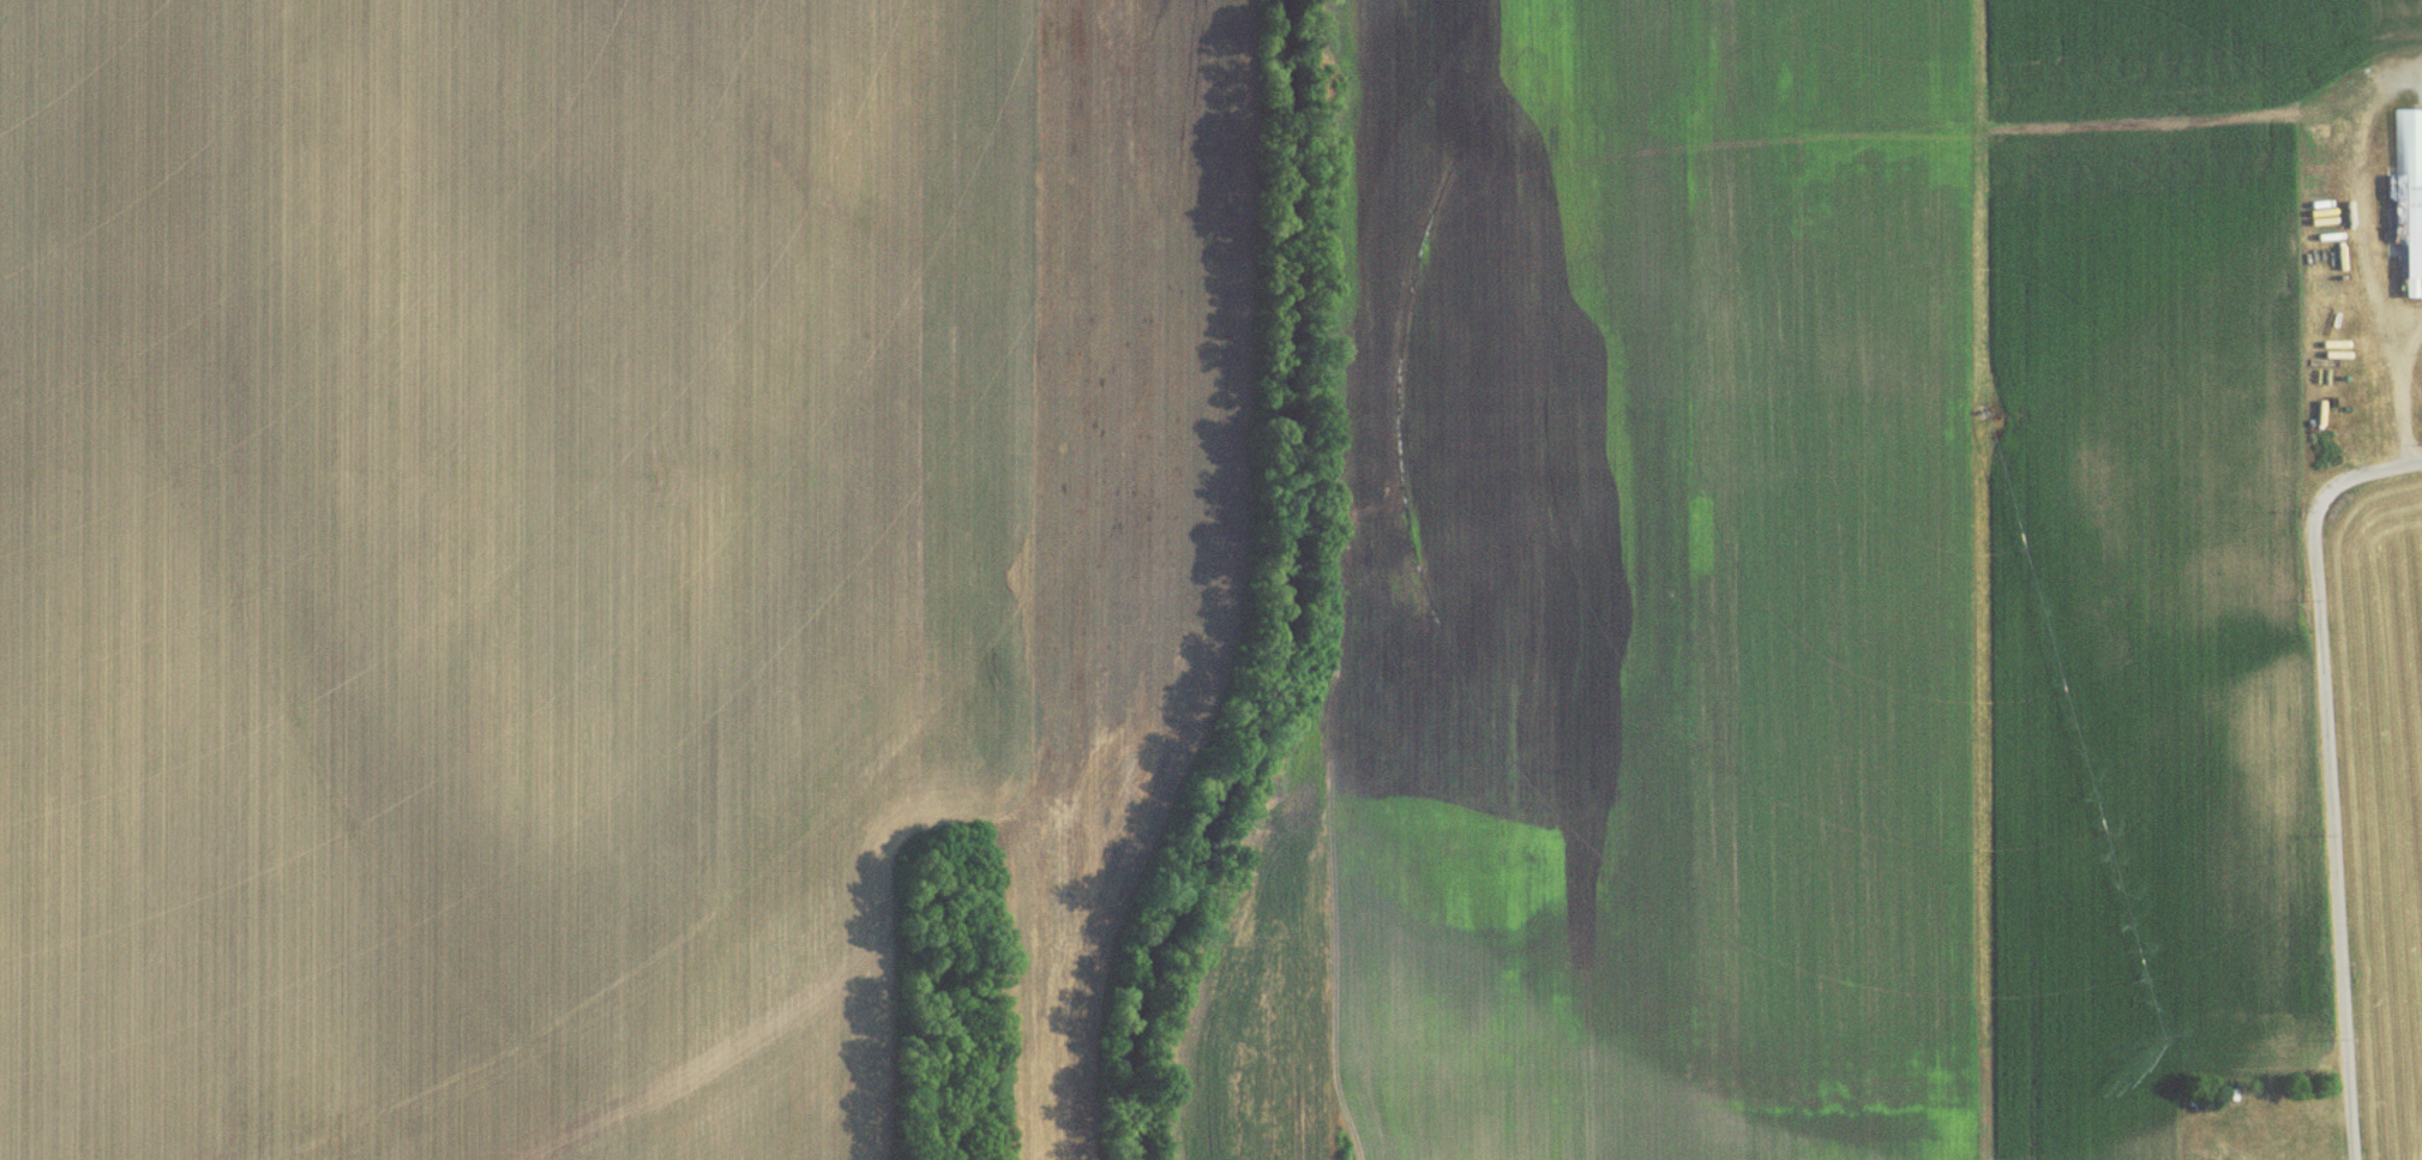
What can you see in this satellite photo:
building: (2410, 209)
road: (2405, 395)
road: (2331, 774)

